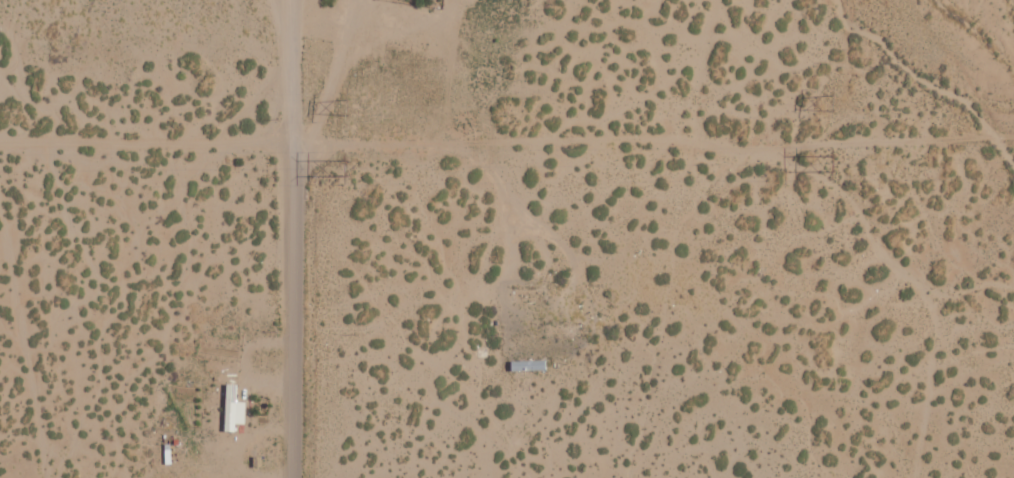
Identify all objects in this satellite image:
power tower: (829, 100)
power tower: (344, 104)
power tower: (832, 161)
power tower: (348, 166)
road: (18, 374)

